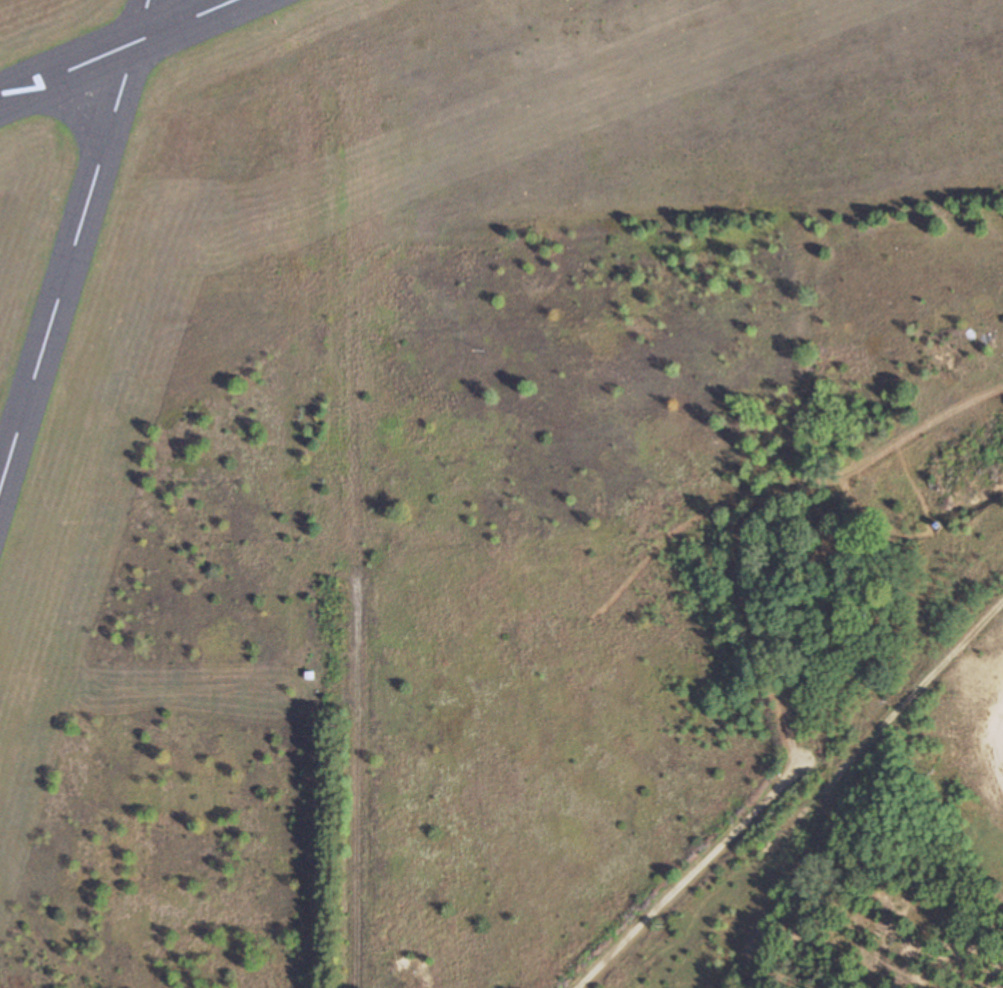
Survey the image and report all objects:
airport runway: (116, 49)
airport runway: (74, 247)
airport: (331, 369)
road: (359, 784)
road: (688, 877)

